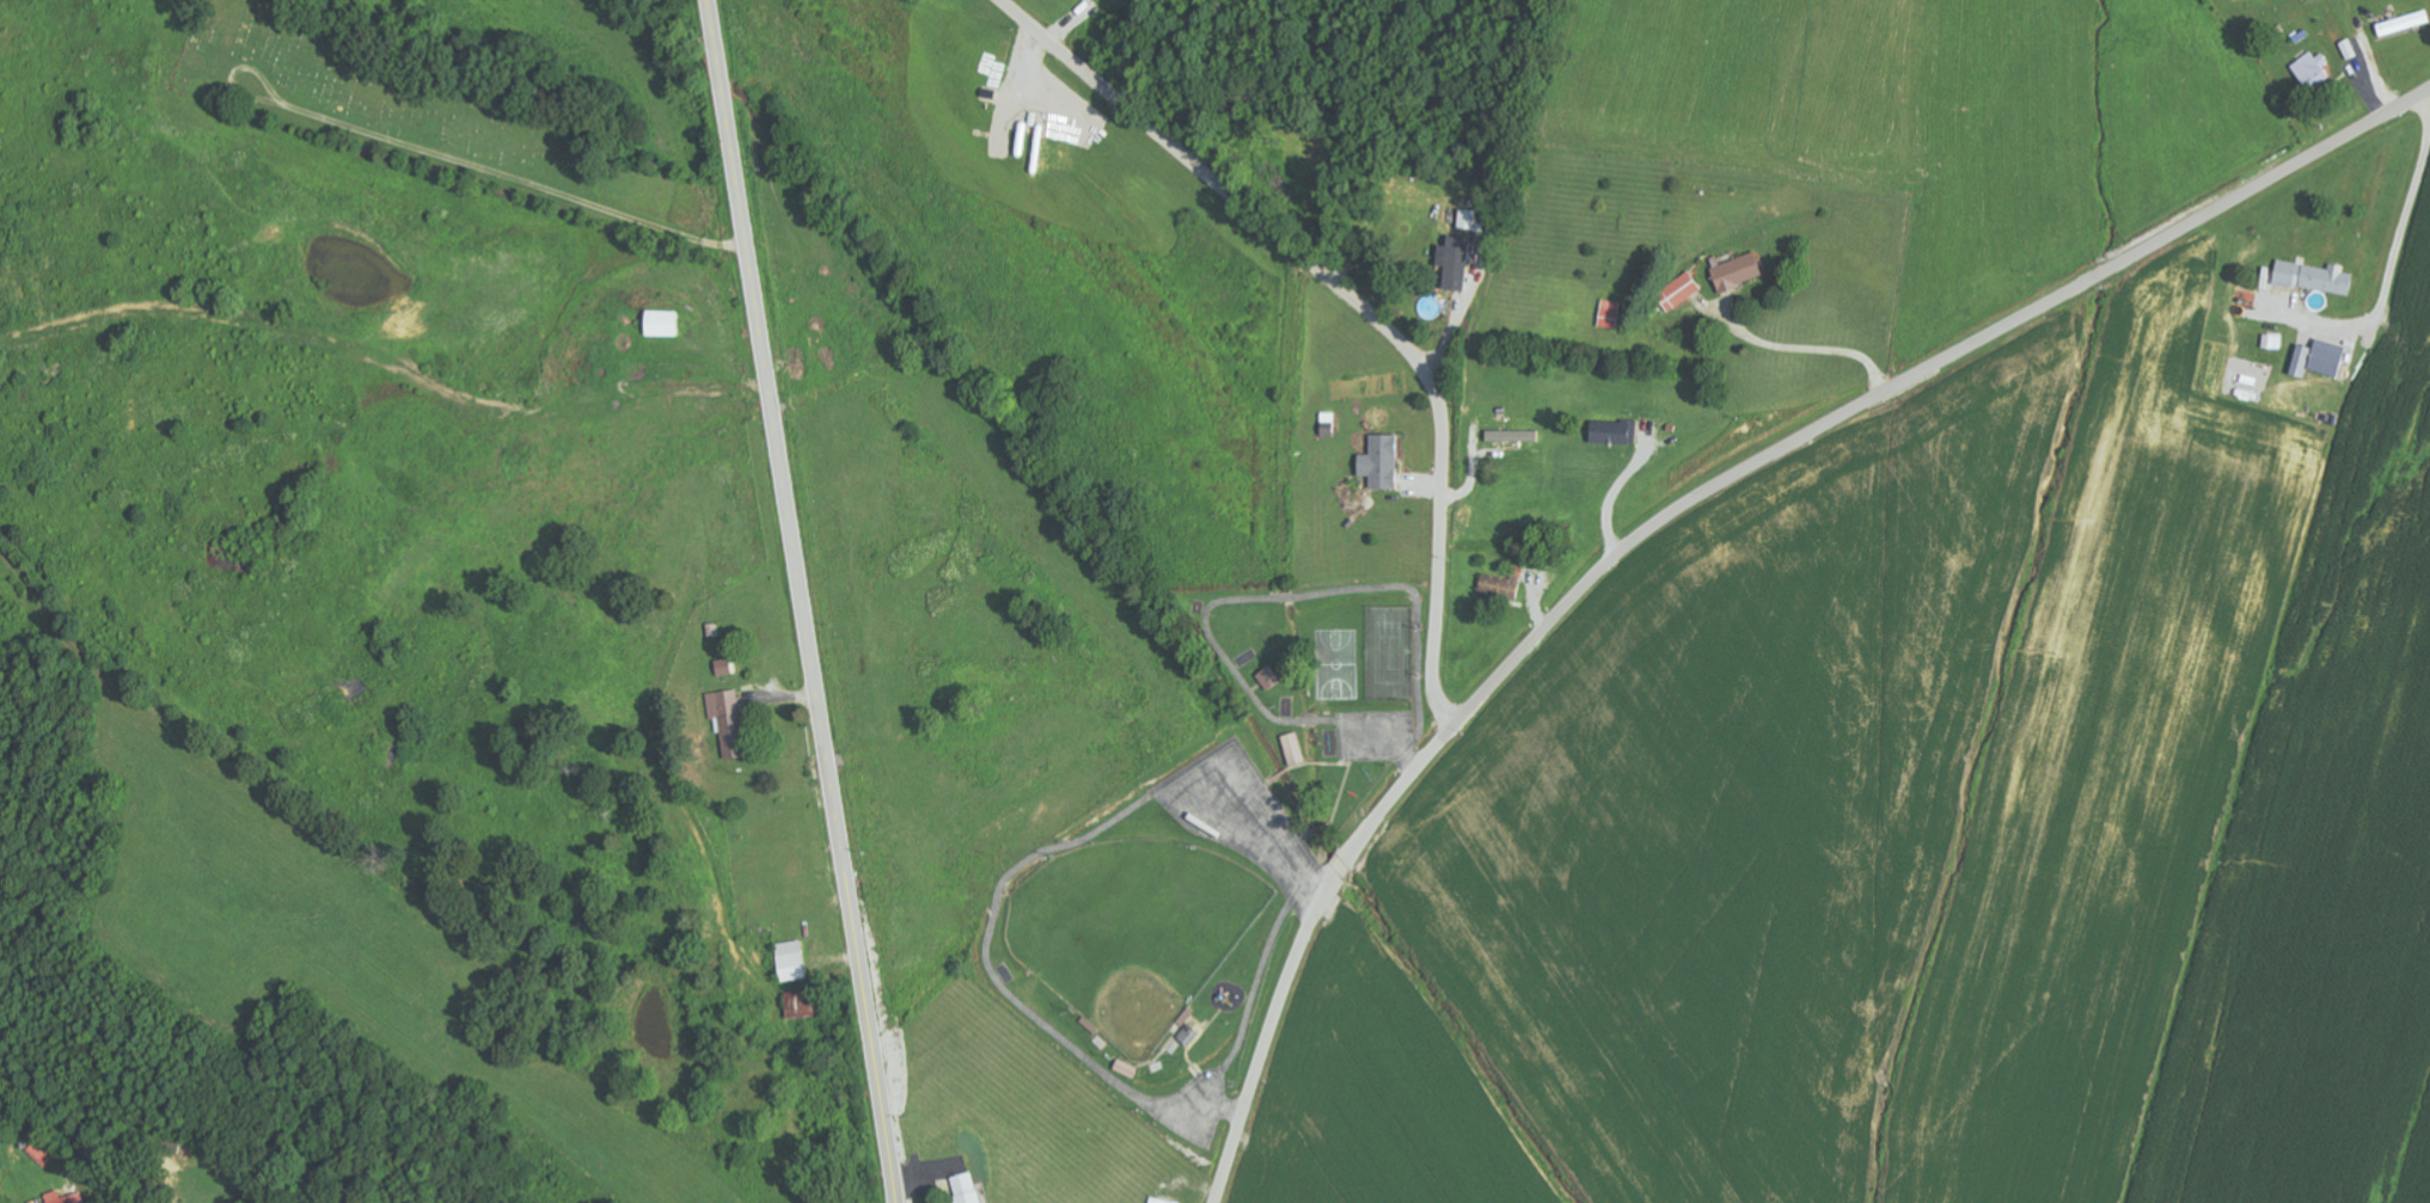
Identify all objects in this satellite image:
building: (2310, 70)
park: (398, 96)
building: (1467, 219)
building: (1453, 260)
building: (1736, 271)
building: (2313, 276)
building: (1678, 290)
road: (1354, 299)
building: (1609, 313)
building: (661, 321)
building: (2272, 340)
building: (2318, 357)
building: (1612, 431)
building: (1511, 435)
building: (1379, 460)
road: (1683, 509)
building: (1496, 585)
road: (801, 601)
building: (723, 665)
building: (1268, 676)
building: (728, 720)
building: (1292, 747)
building: (789, 959)
building: (801, 1003)
building: (1187, 1033)
building: (38, 1154)
building: (966, 1187)
building: (62, 1197)

